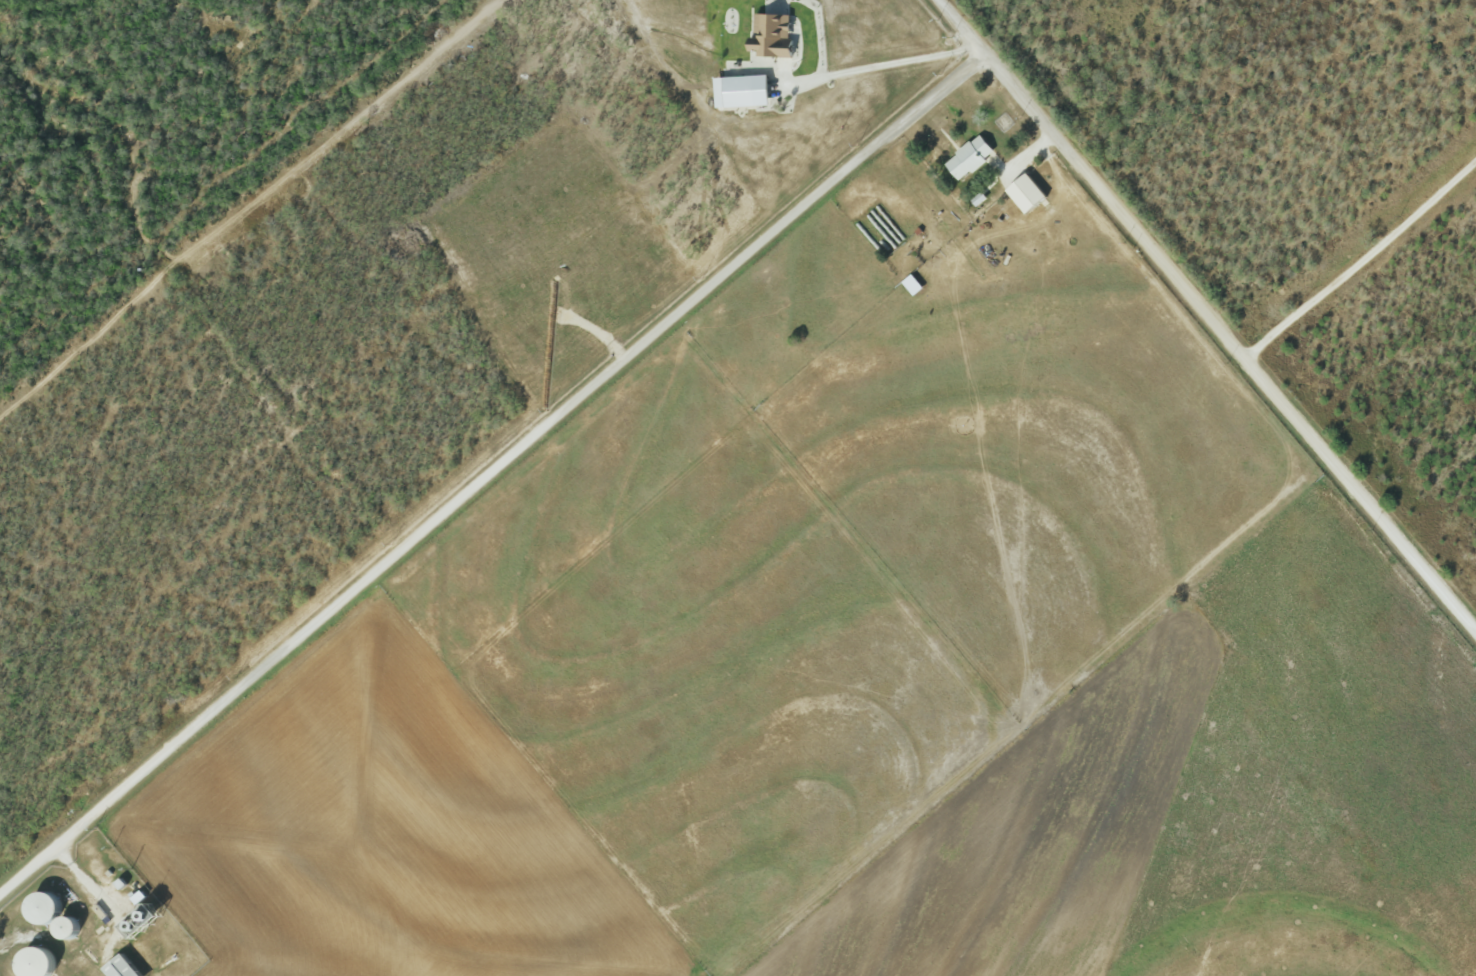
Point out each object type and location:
road: (822, 35)
road: (882, 64)
building: (740, 91)
building: (968, 158)
building: (1023, 193)
road: (1361, 264)
building: (911, 285)
road: (1207, 314)
road: (492, 476)
building: (118, 967)

